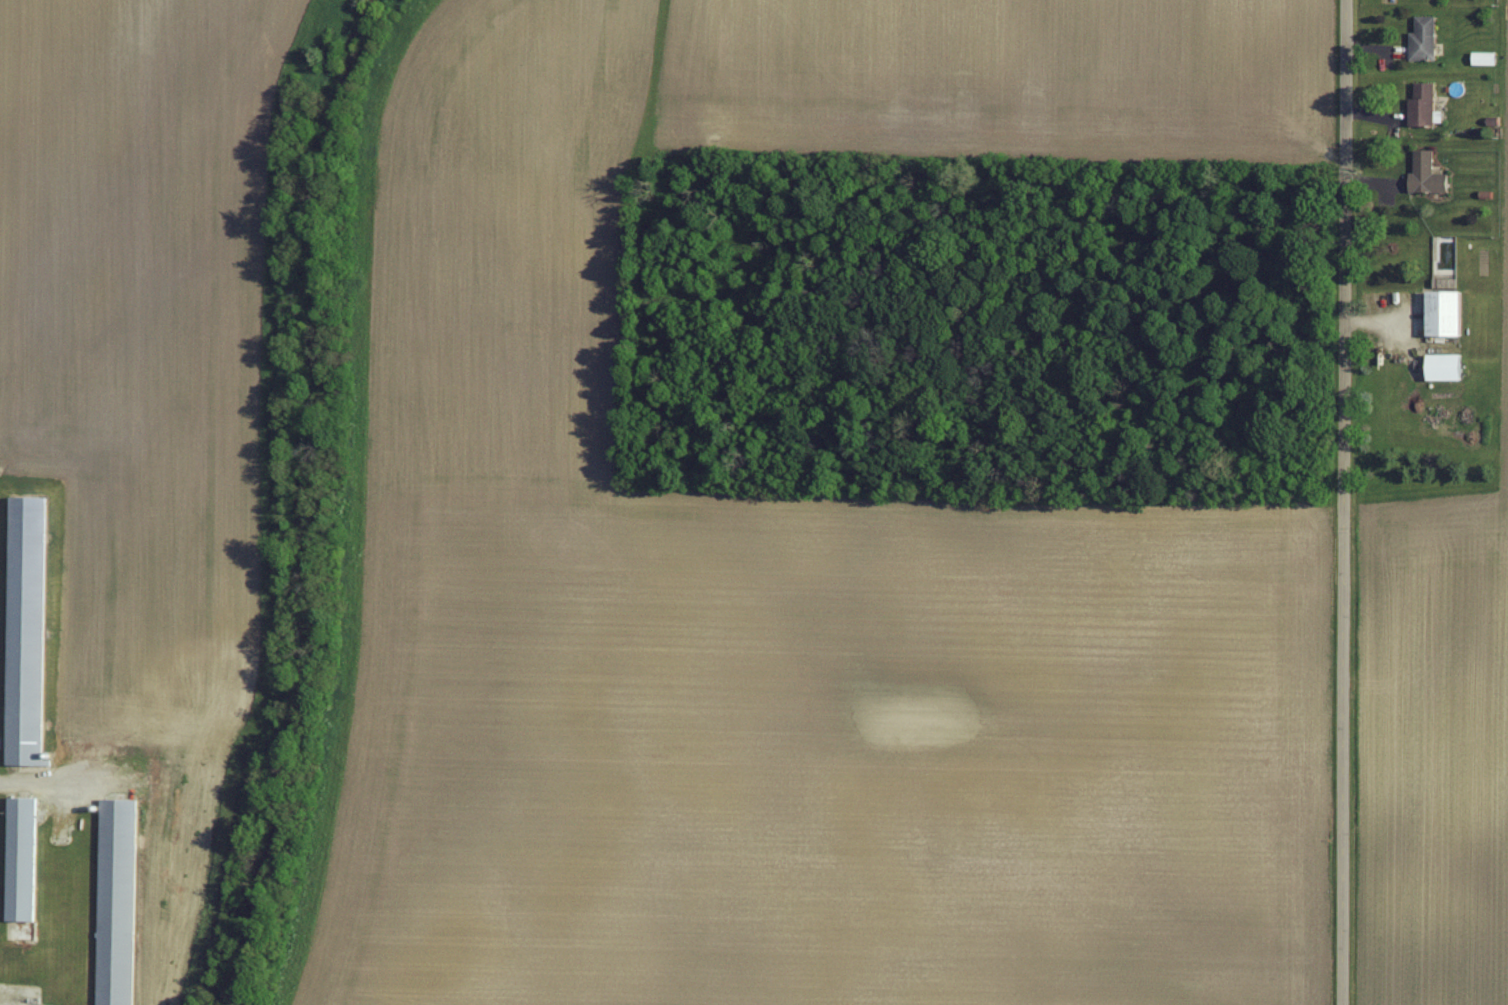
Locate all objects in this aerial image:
road: (1341, 502)
building: (24, 627)
crop: (1433, 737)
building: (43, 817)
building: (20, 857)
building: (116, 900)

